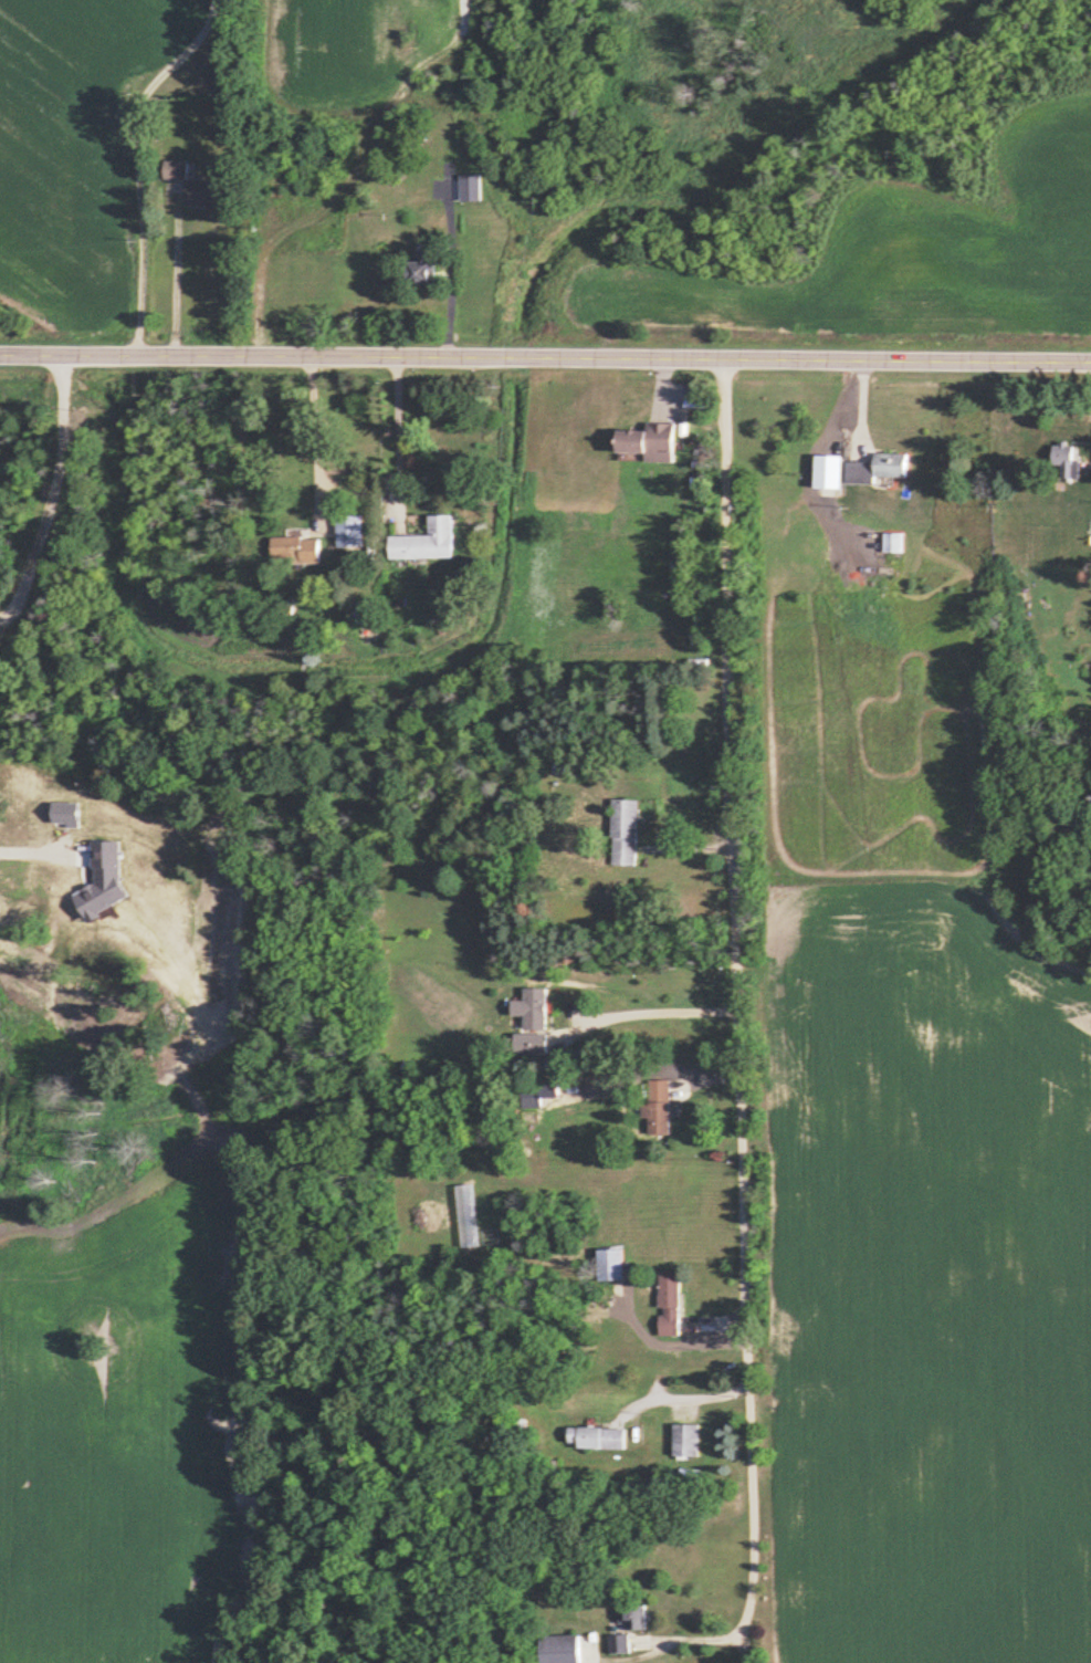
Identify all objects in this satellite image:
road: (141, 163)
building: (193, 185)
building: (470, 187)
road: (455, 268)
building: (423, 269)
road: (174, 285)
road: (545, 357)
road: (312, 422)
road: (396, 429)
building: (651, 442)
building: (1064, 457)
building: (878, 467)
road: (54, 494)
building: (350, 530)
building: (427, 540)
building: (891, 541)
building: (296, 548)
building: (625, 831)
road: (30, 851)
building: (533, 1008)
road: (651, 1013)
park: (124, 1016)
building: (531, 1044)
road: (742, 1055)
building: (657, 1107)
crop: (913, 1170)
building: (611, 1263)
building: (669, 1301)
road: (690, 1394)
building: (597, 1435)
building: (686, 1439)
building: (636, 1615)
building: (618, 1642)
building: (560, 1649)

